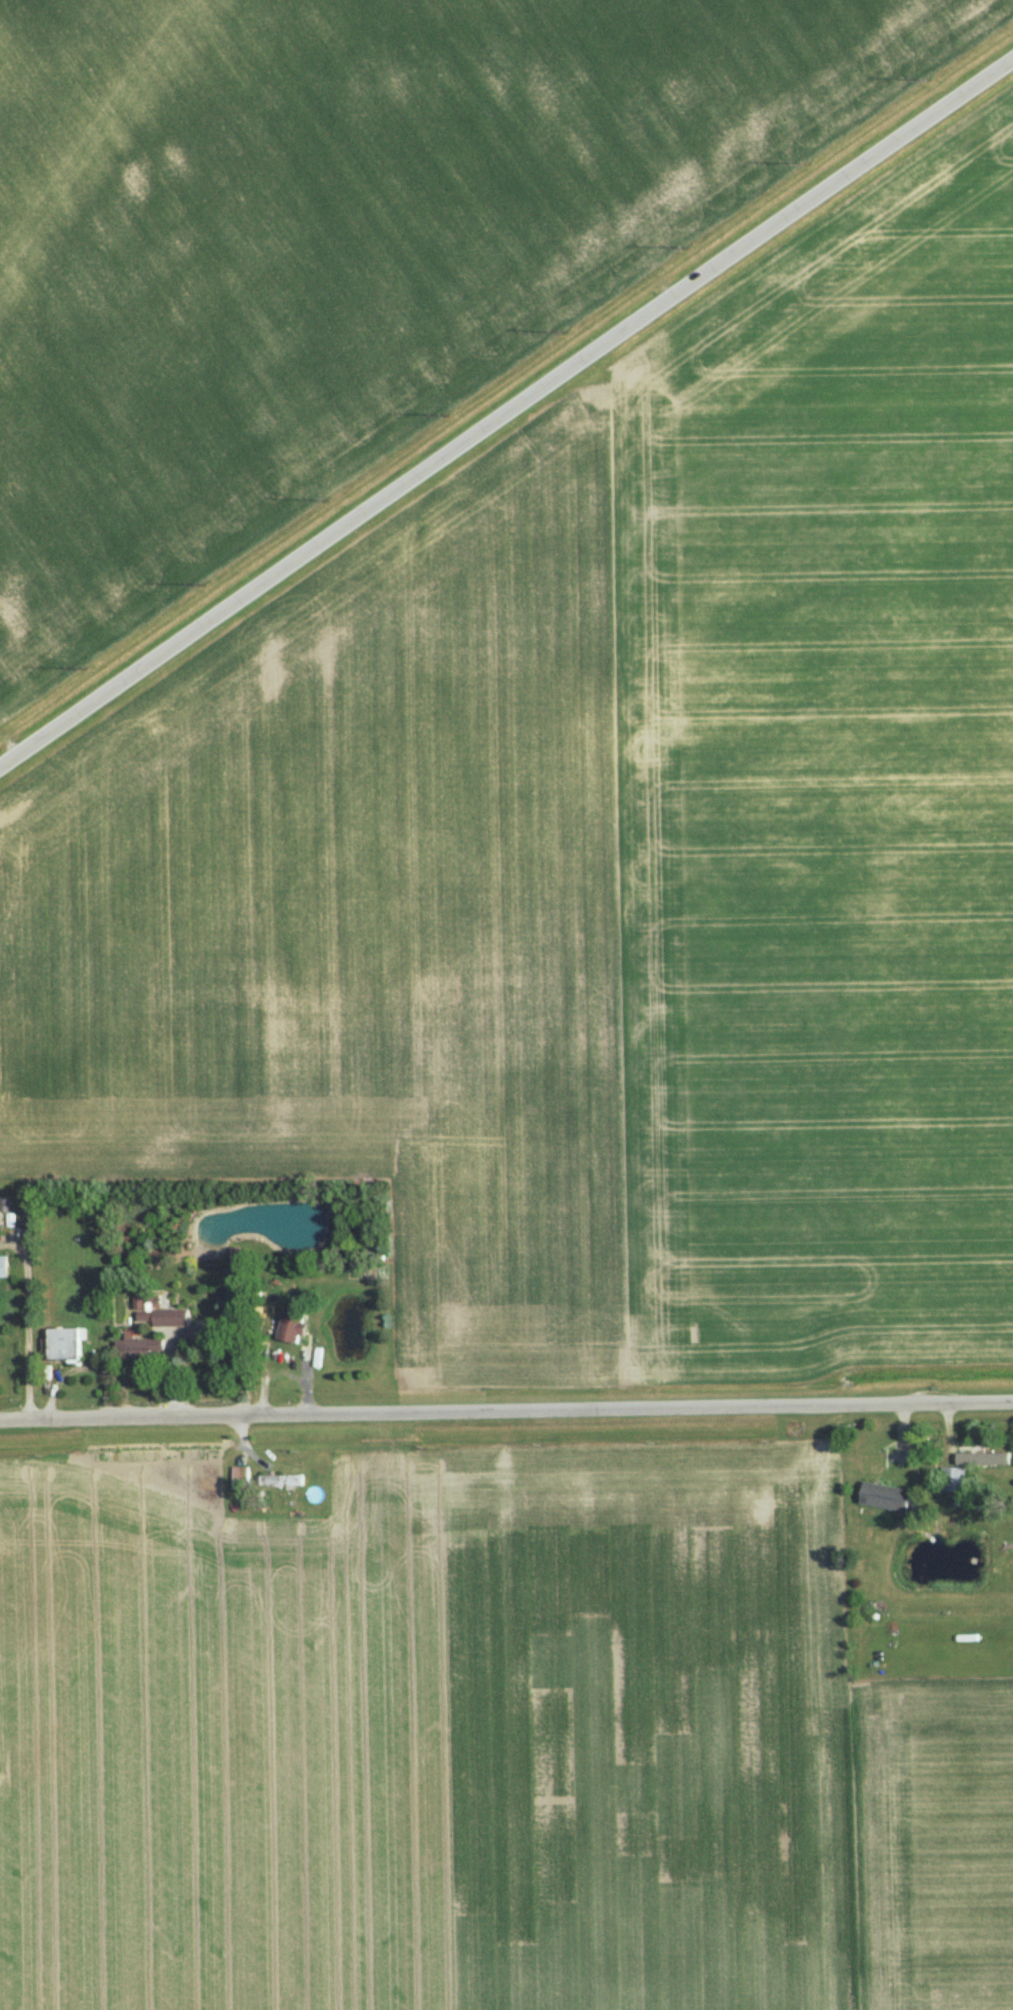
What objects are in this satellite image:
crop: (344, 245)
road: (505, 412)
crop: (603, 850)
building: (0, 1270)
building: (286, 1326)
road: (20, 1336)
building: (60, 1344)
building: (134, 1348)
road: (506, 1411)
building: (969, 1466)
building: (236, 1477)
building: (276, 1481)
building: (878, 1497)
crop: (430, 1737)
crop: (932, 1842)

